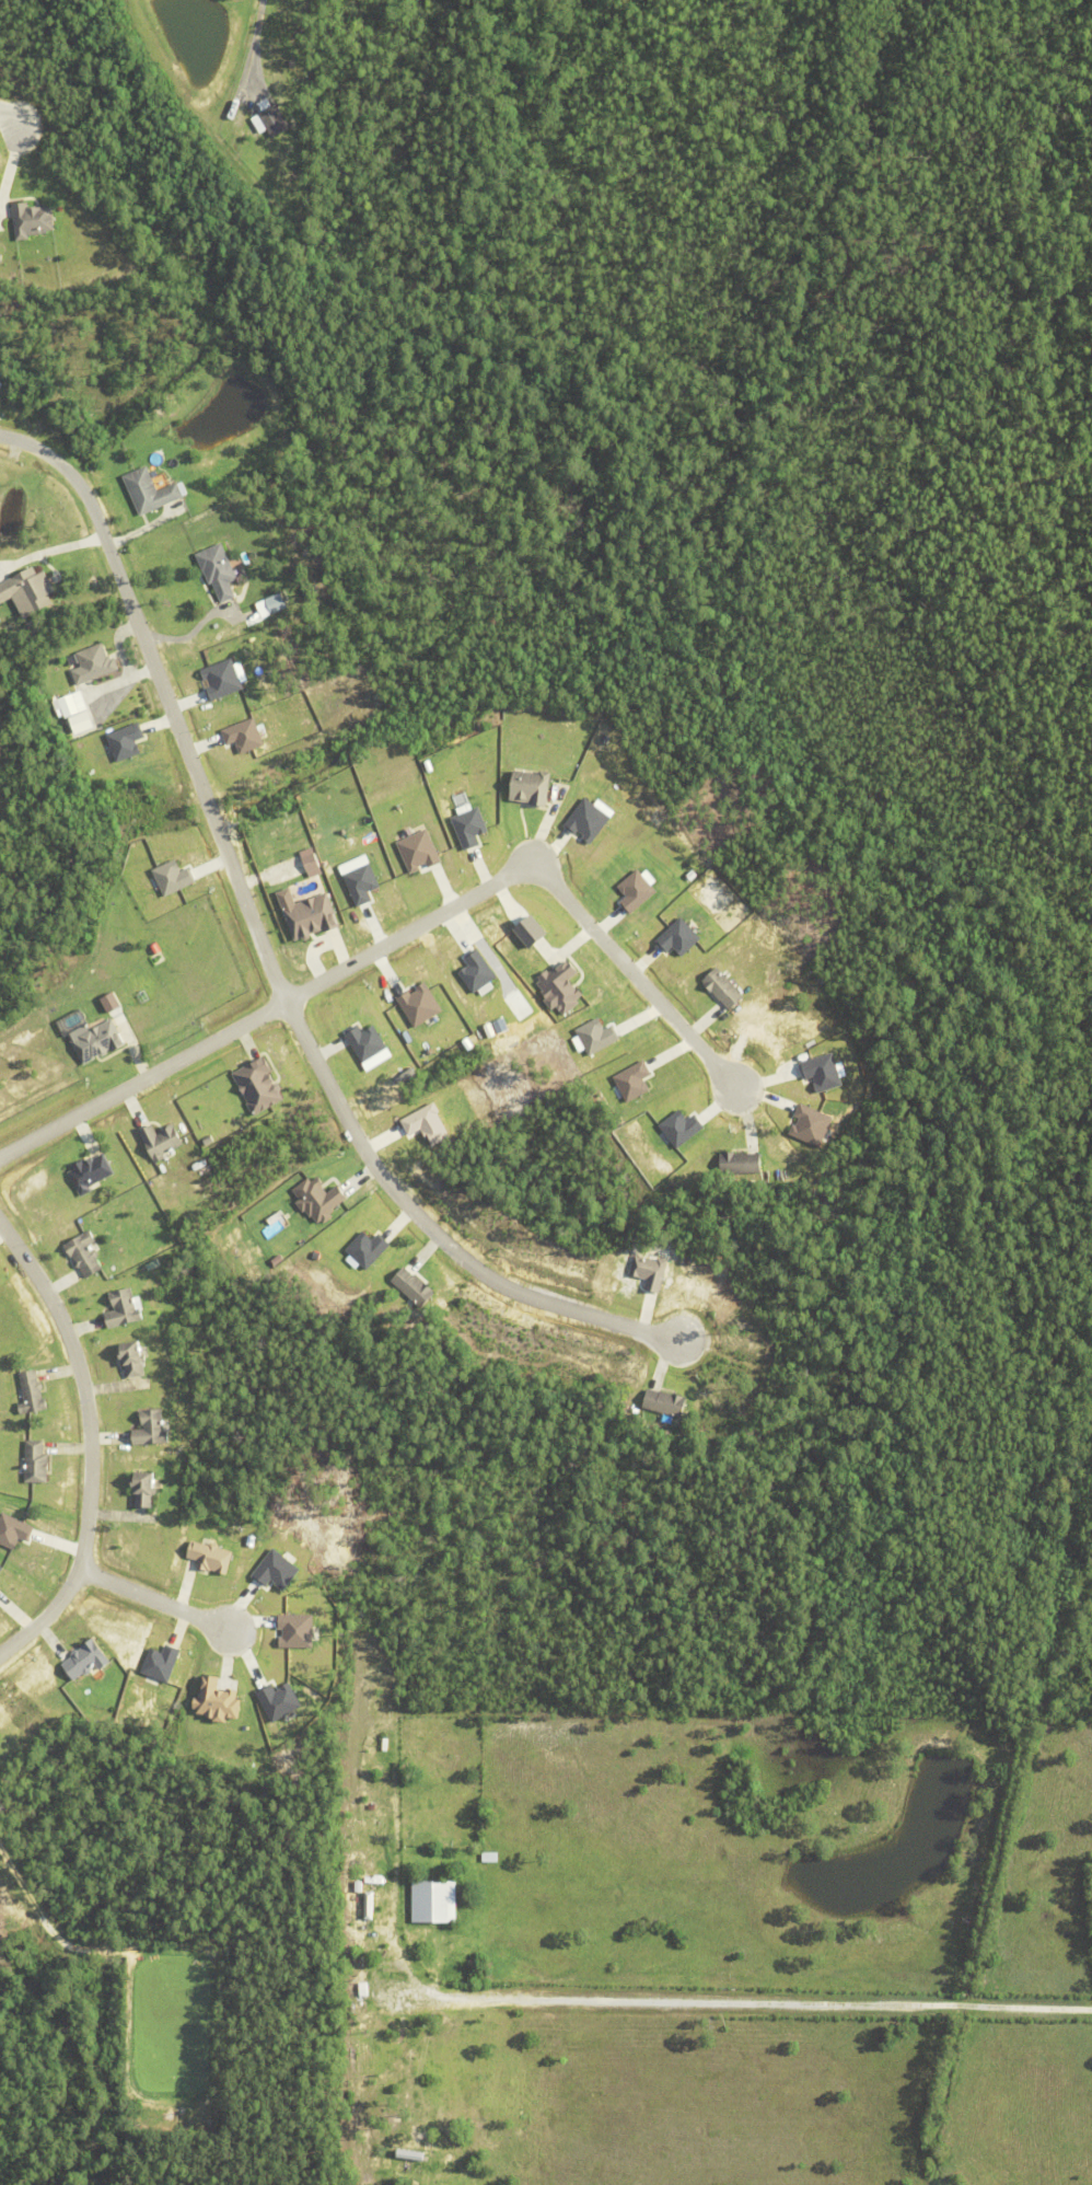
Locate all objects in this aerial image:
road: (263, 47)
building: (269, 119)
road: (5, 123)
building: (31, 220)
building: (0, 258)
building: (151, 490)
building: (218, 571)
building: (27, 593)
building: (278, 602)
building: (95, 663)
building: (223, 680)
road: (167, 700)
building: (74, 703)
building: (245, 735)
building: (127, 741)
building: (532, 786)
building: (1, 794)
building: (589, 820)
building: (472, 826)
building: (420, 851)
building: (314, 864)
building: (174, 877)
building: (363, 883)
building: (637, 891)
building: (313, 916)
building: (534, 930)
road: (402, 936)
building: (679, 937)
building: (478, 972)
building: (562, 985)
building: (724, 989)
building: (113, 1002)
building: (421, 1004)
building: (597, 1036)
building: (93, 1038)
building: (367, 1042)
building: (823, 1071)
building: (635, 1080)
building: (260, 1085)
building: (429, 1124)
building: (812, 1124)
building: (682, 1128)
building: (163, 1140)
building: (742, 1164)
building: (91, 1172)
building: (321, 1199)
road: (428, 1232)
building: (369, 1248)
building: (85, 1255)
building: (648, 1270)
building: (124, 1309)
building: (135, 1360)
building: (32, 1392)
building: (666, 1402)
building: (153, 1427)
road: (89, 1448)
building: (36, 1461)
building: (146, 1487)
building: (14, 1529)
building: (211, 1556)
building: (0, 1586)
road: (153, 1598)
building: (88, 1658)
building: (162, 1662)
building: (219, 1699)
building: (385, 1743)
building: (362, 1826)
building: (489, 1855)
building: (438, 1900)
building: (371, 1905)
building: (357, 1907)
building: (362, 1988)
road: (706, 2000)

